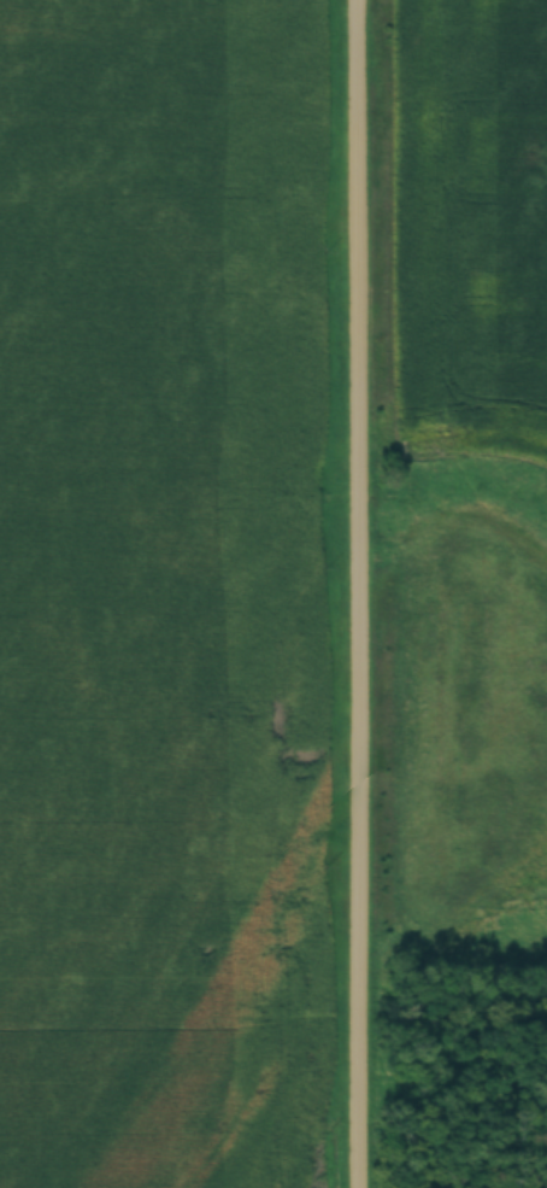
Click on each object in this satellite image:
road: (365, 593)

